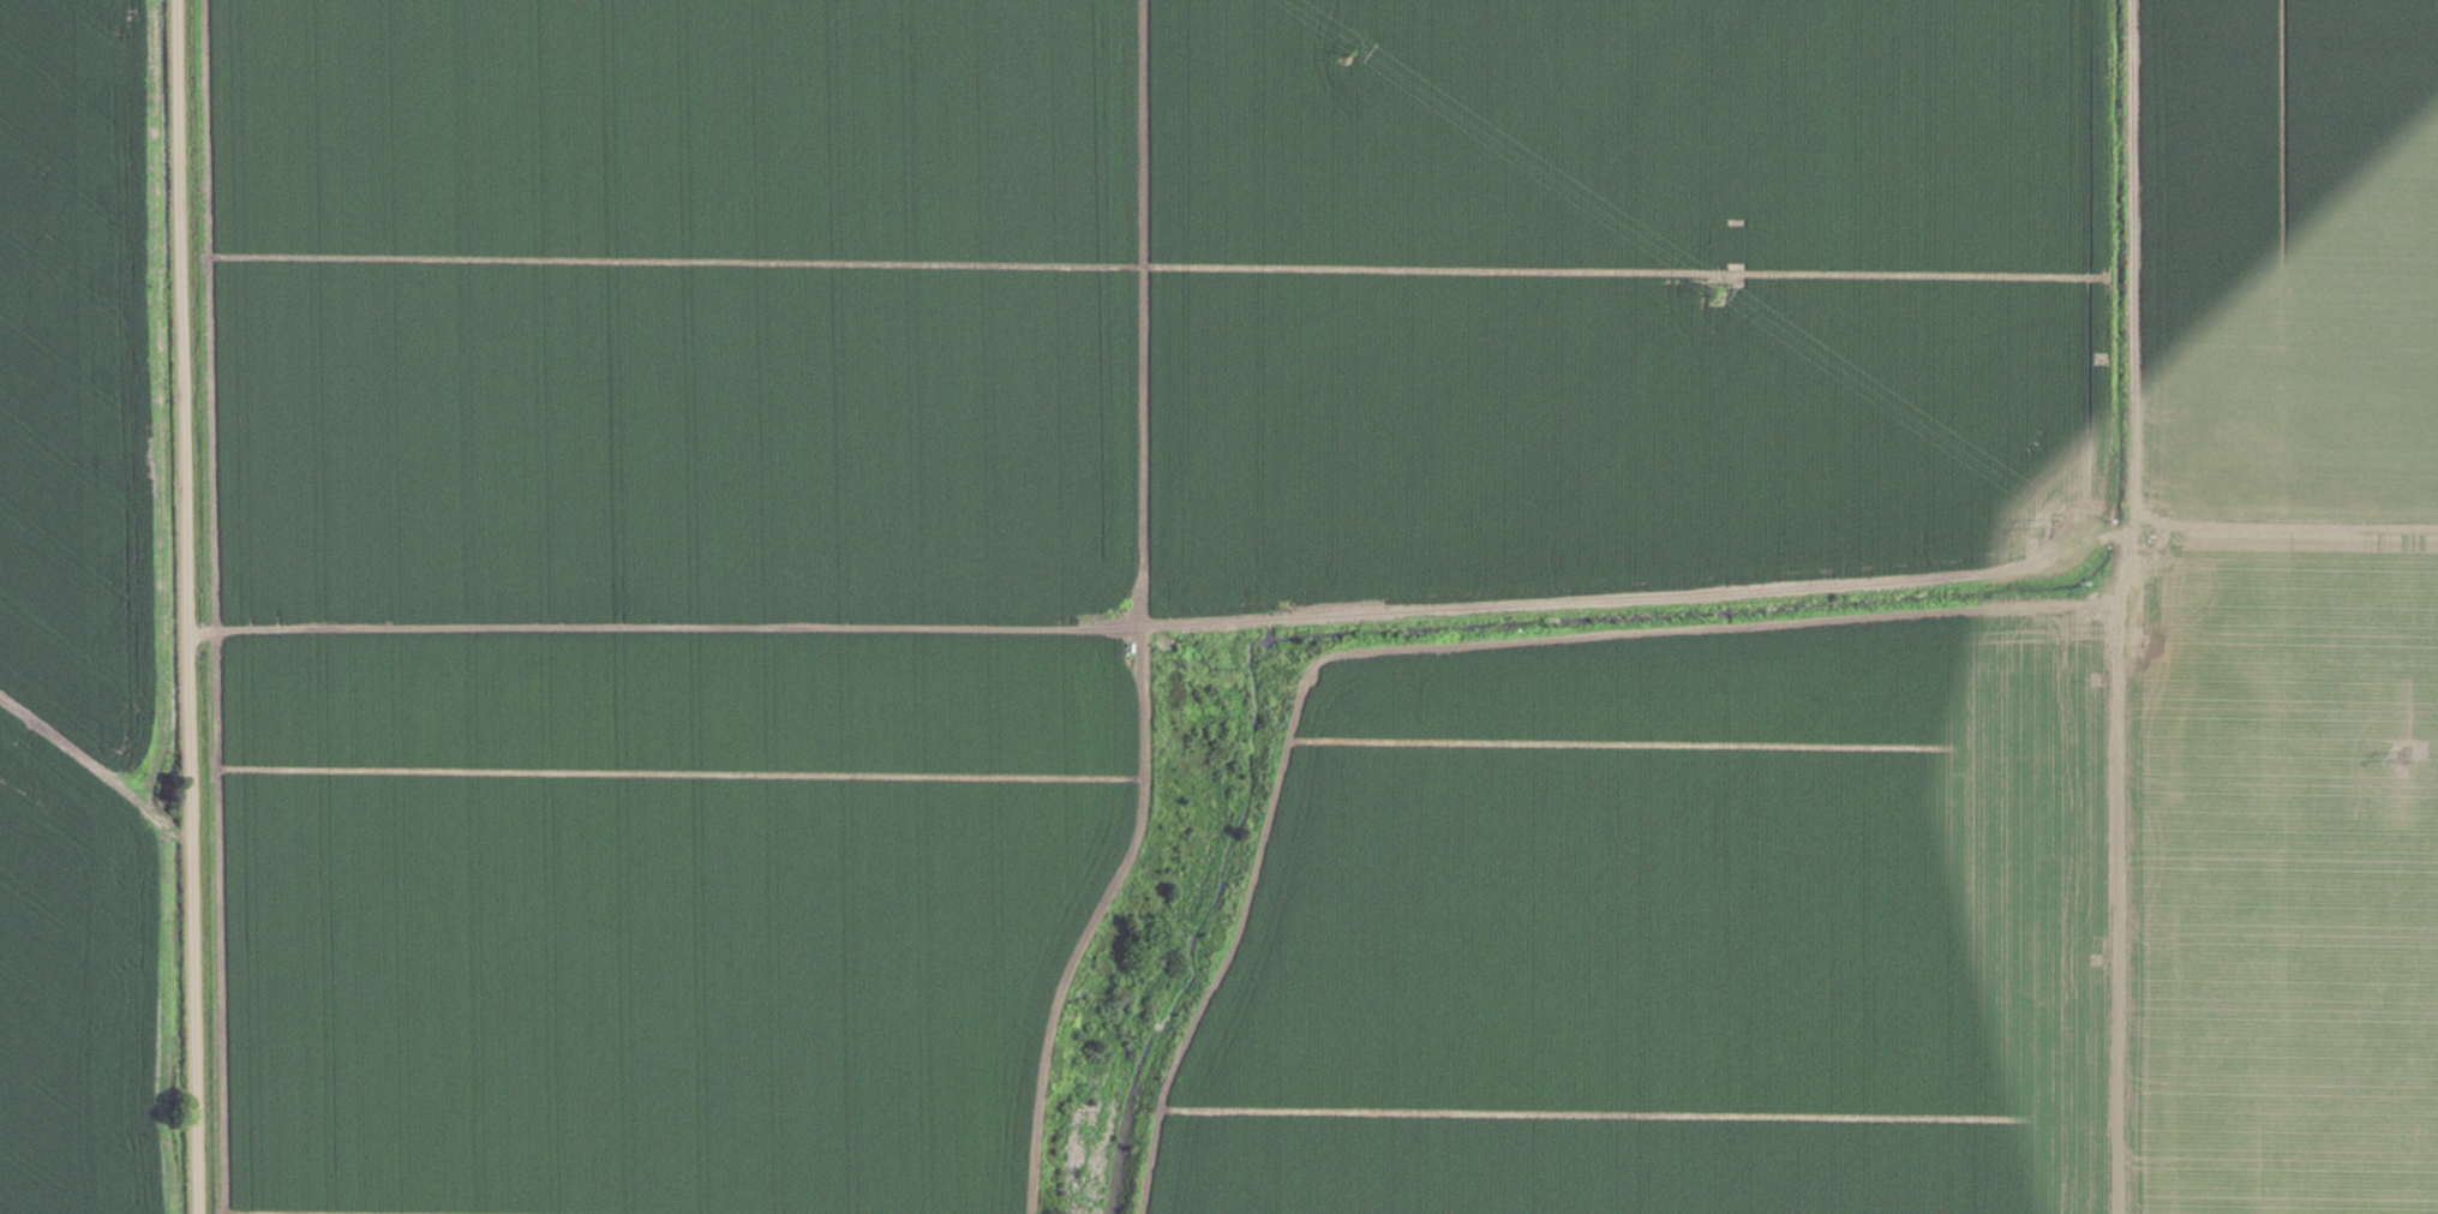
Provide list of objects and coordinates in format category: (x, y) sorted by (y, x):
power tower: (1349, 52)
power tower: (1711, 291)
power tower: (2051, 516)
road: (178, 606)
power tower: (2402, 754)

